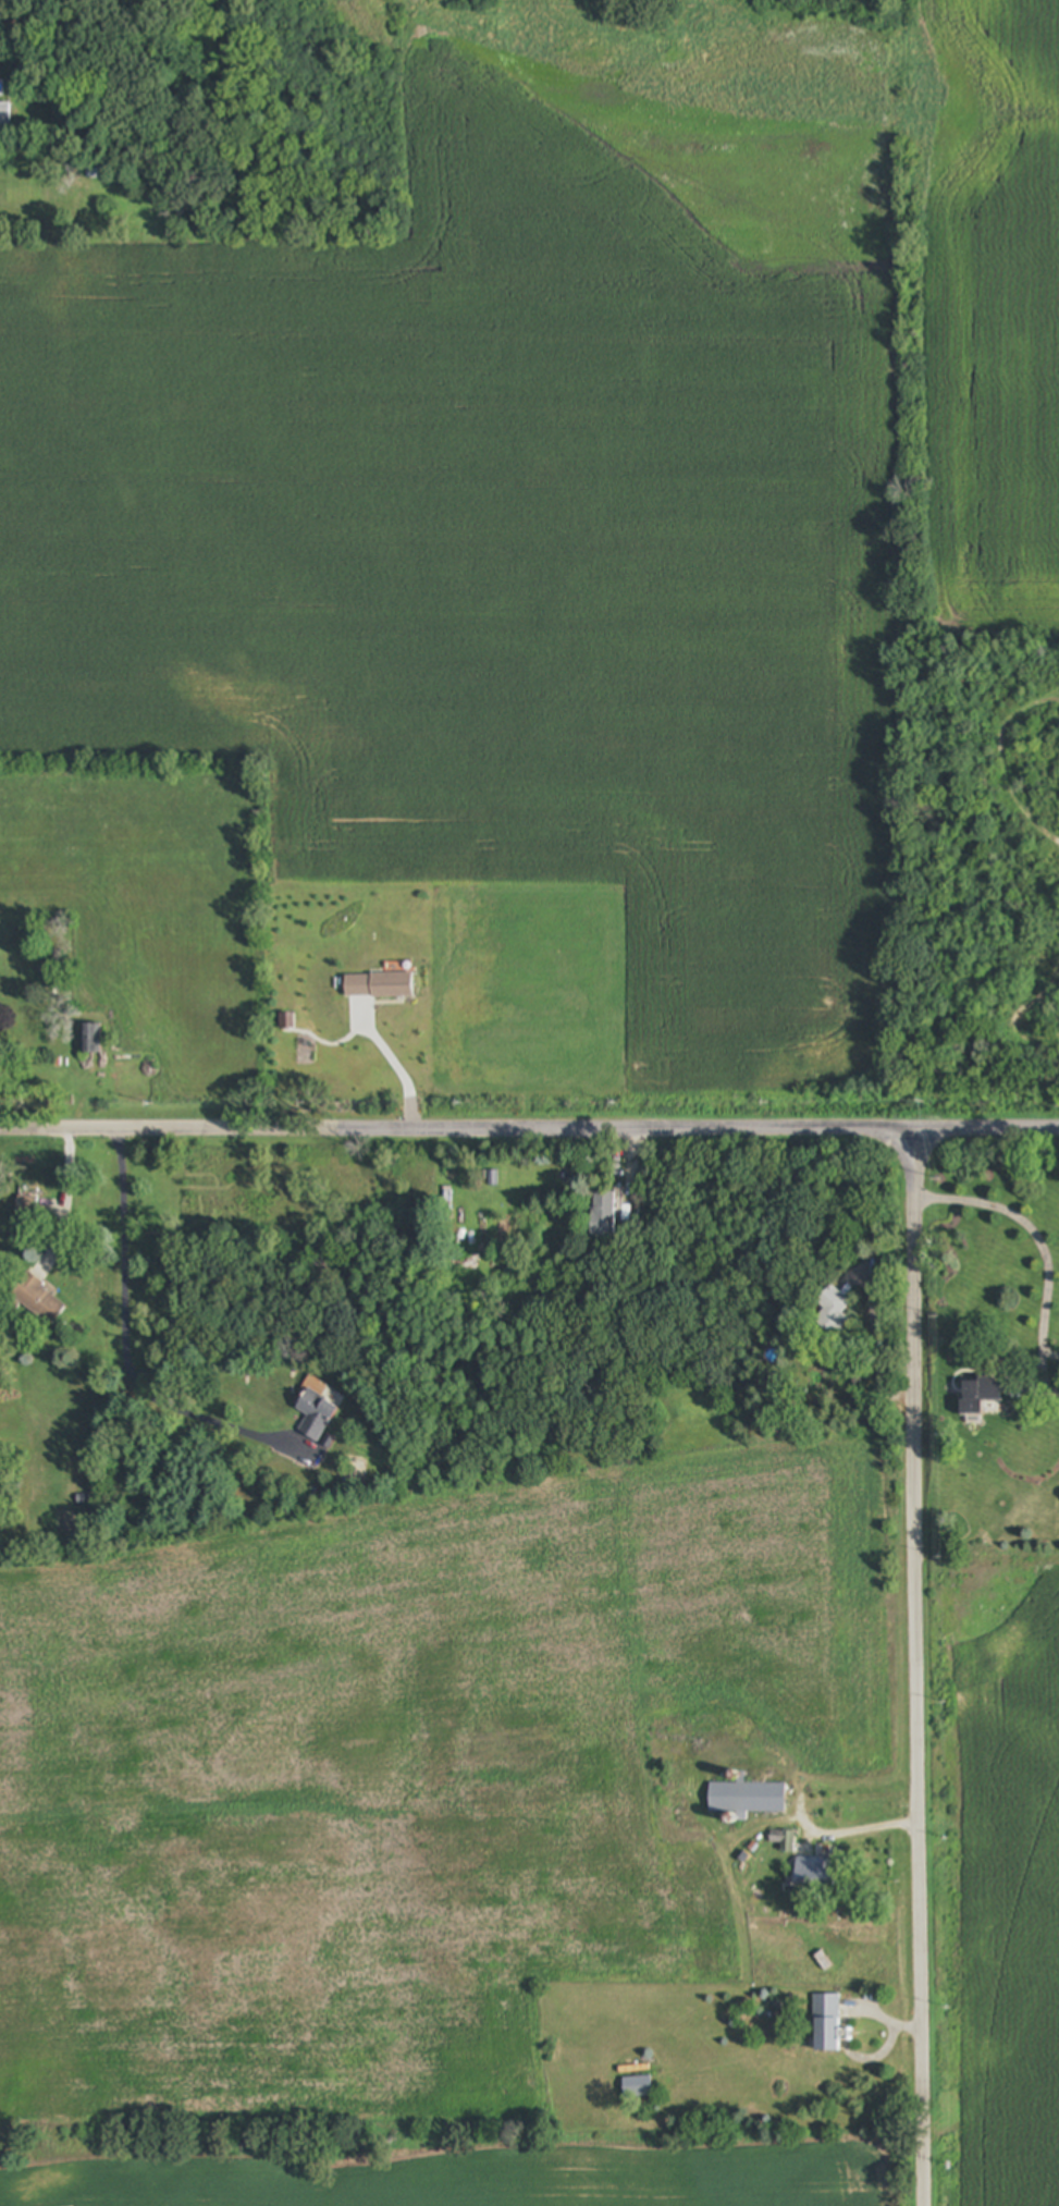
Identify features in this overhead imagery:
building: (5, 113)
building: (93, 1040)
road: (391, 1061)
road: (529, 1130)
road: (65, 1203)
building: (26, 1208)
building: (605, 1216)
road: (1034, 1235)
building: (38, 1301)
building: (835, 1312)
road: (126, 1351)
building: (980, 1399)
building: (317, 1415)
road: (918, 1667)
building: (748, 1798)
road: (864, 1831)
building: (785, 1840)
building: (822, 1874)
building: (826, 2022)
building: (638, 2087)

